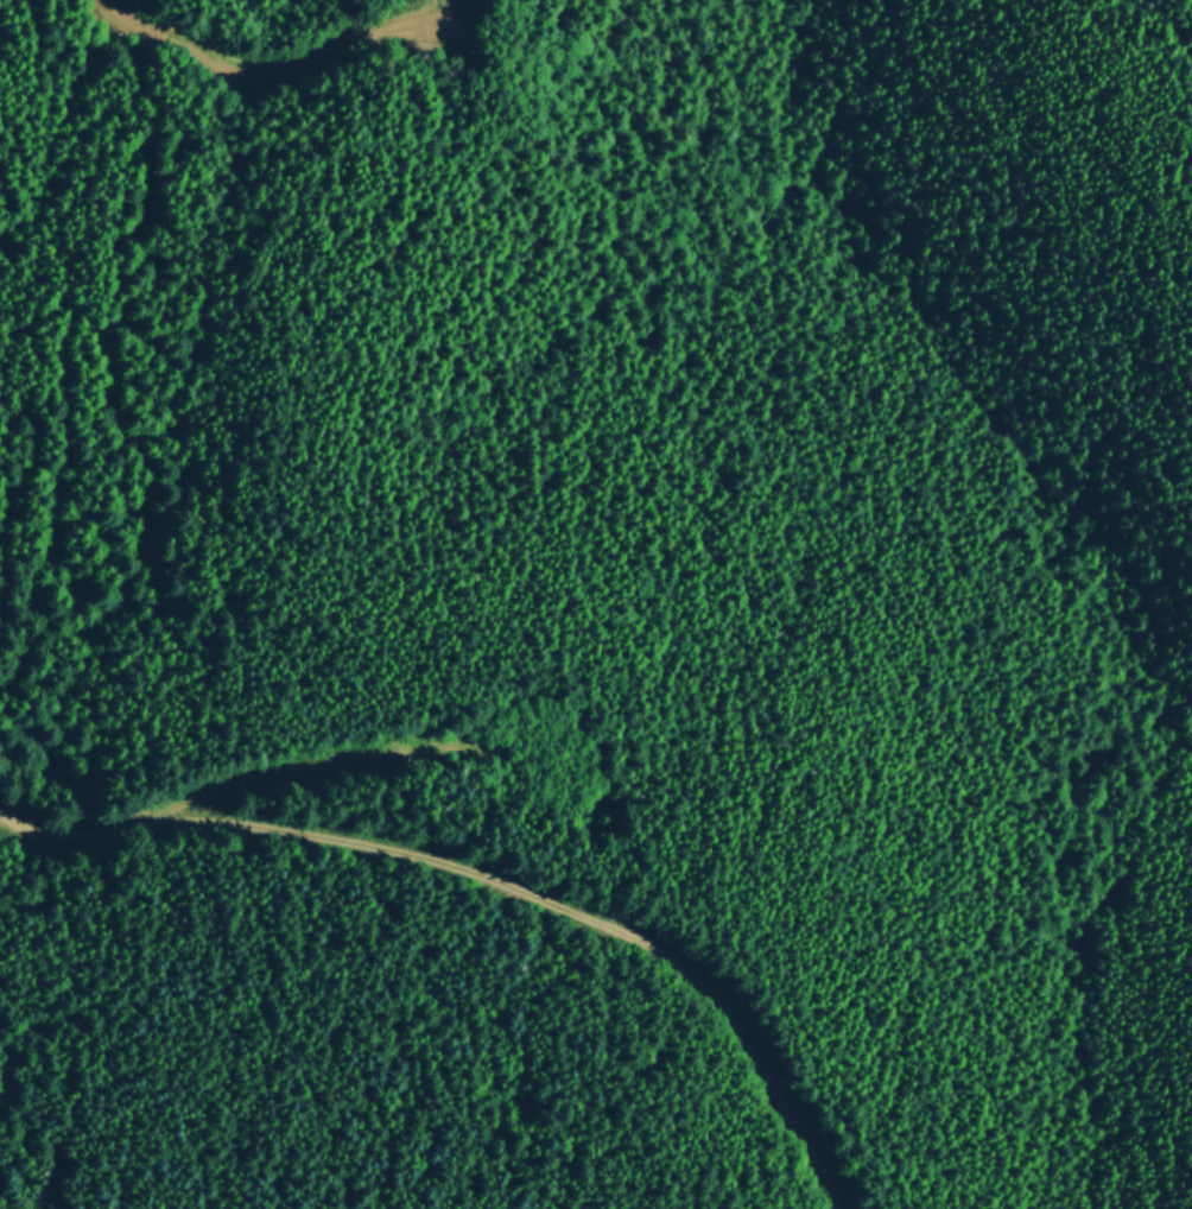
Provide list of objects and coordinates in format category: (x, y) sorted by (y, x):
road: (277, 61)
road: (490, 875)

